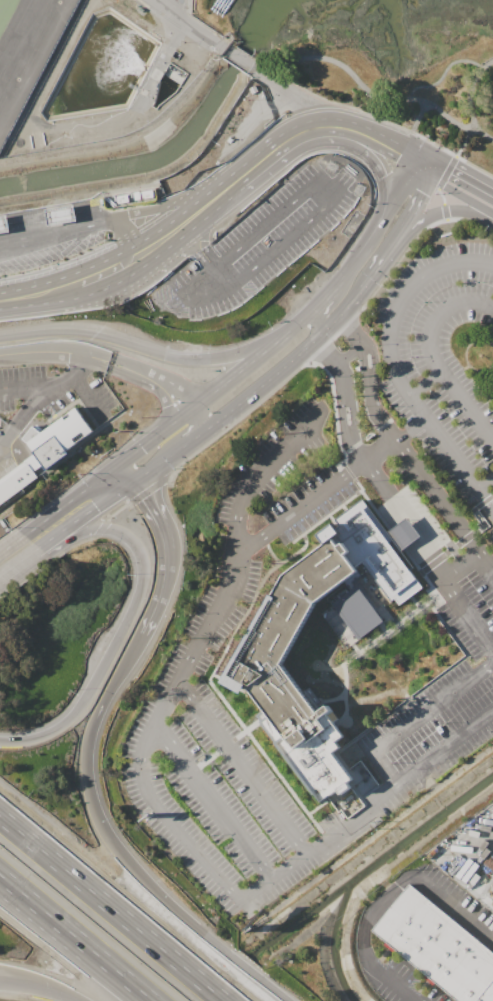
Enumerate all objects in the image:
road: (190, 23)
road: (237, 55)
road: (160, 62)
airport: (93, 65)
road: (279, 72)
park: (405, 89)
road: (289, 92)
road: (472, 103)
road: (416, 115)
road: (297, 131)
road: (372, 135)
road: (366, 147)
traffic signals: (401, 147)
road: (295, 152)
road: (425, 159)
road: (410, 162)
road: (442, 167)
road: (446, 171)
traffic signals: (450, 172)
road: (431, 174)
road: (415, 177)
traffic signals: (426, 183)
road: (470, 183)
road: (228, 184)
road: (394, 192)
road: (439, 194)
road: (333, 195)
road: (459, 202)
road: (176, 206)
road: (93, 209)
road: (444, 209)
road: (409, 211)
road: (459, 212)
road: (58, 213)
building: (59, 214)
road: (25, 220)
road: (184, 220)
road: (3, 223)
building: (1, 226)
road: (406, 226)
street lamp: (485, 230)
road: (55, 234)
road: (414, 238)
road: (122, 239)
road: (158, 240)
road: (197, 243)
parking lot: (261, 244)
road: (381, 256)
road: (105, 270)
road: (191, 280)
road: (334, 283)
road: (39, 292)
road: (355, 294)
road: (320, 308)
road: (492, 308)
road: (329, 324)
road: (38, 334)
road: (334, 334)
road: (349, 352)
road: (82, 353)
road: (390, 354)
road: (432, 354)
road: (174, 357)
road: (78, 364)
road: (370, 374)
road: (233, 375)
road: (425, 380)
road: (25, 386)
road: (179, 392)
road: (86, 395)
road: (30, 401)
road: (164, 404)
road: (228, 407)
road: (240, 415)
road: (407, 425)
building: (57, 437)
road: (176, 437)
road: (146, 441)
traffic signals: (143, 444)
road: (366, 460)
road: (262, 472)
building: (17, 477)
road: (118, 477)
road: (153, 484)
road: (487, 484)
traffic signals: (146, 495)
road: (315, 495)
road: (487, 496)
road: (148, 499)
road: (442, 505)
road: (61, 506)
traffic signals: (98, 506)
road: (119, 508)
road: (88, 513)
road: (102, 525)
building: (402, 534)
road: (11, 543)
road: (73, 543)
road: (20, 562)
road: (26, 575)
road: (168, 580)
road: (454, 597)
parking lot: (337, 603)
building: (356, 612)
road: (128, 623)
building: (272, 635)
road: (116, 683)
road: (419, 715)
road: (242, 767)
road: (213, 802)
street lamp: (114, 818)
road: (208, 865)
road: (153, 886)
building: (489, 889)
street lamp: (175, 890)
road: (452, 897)
road: (113, 907)
parking lot: (471, 912)
road: (369, 913)
road: (75, 938)
building: (438, 946)
road: (74, 949)
road: (393, 983)
road: (42, 986)

